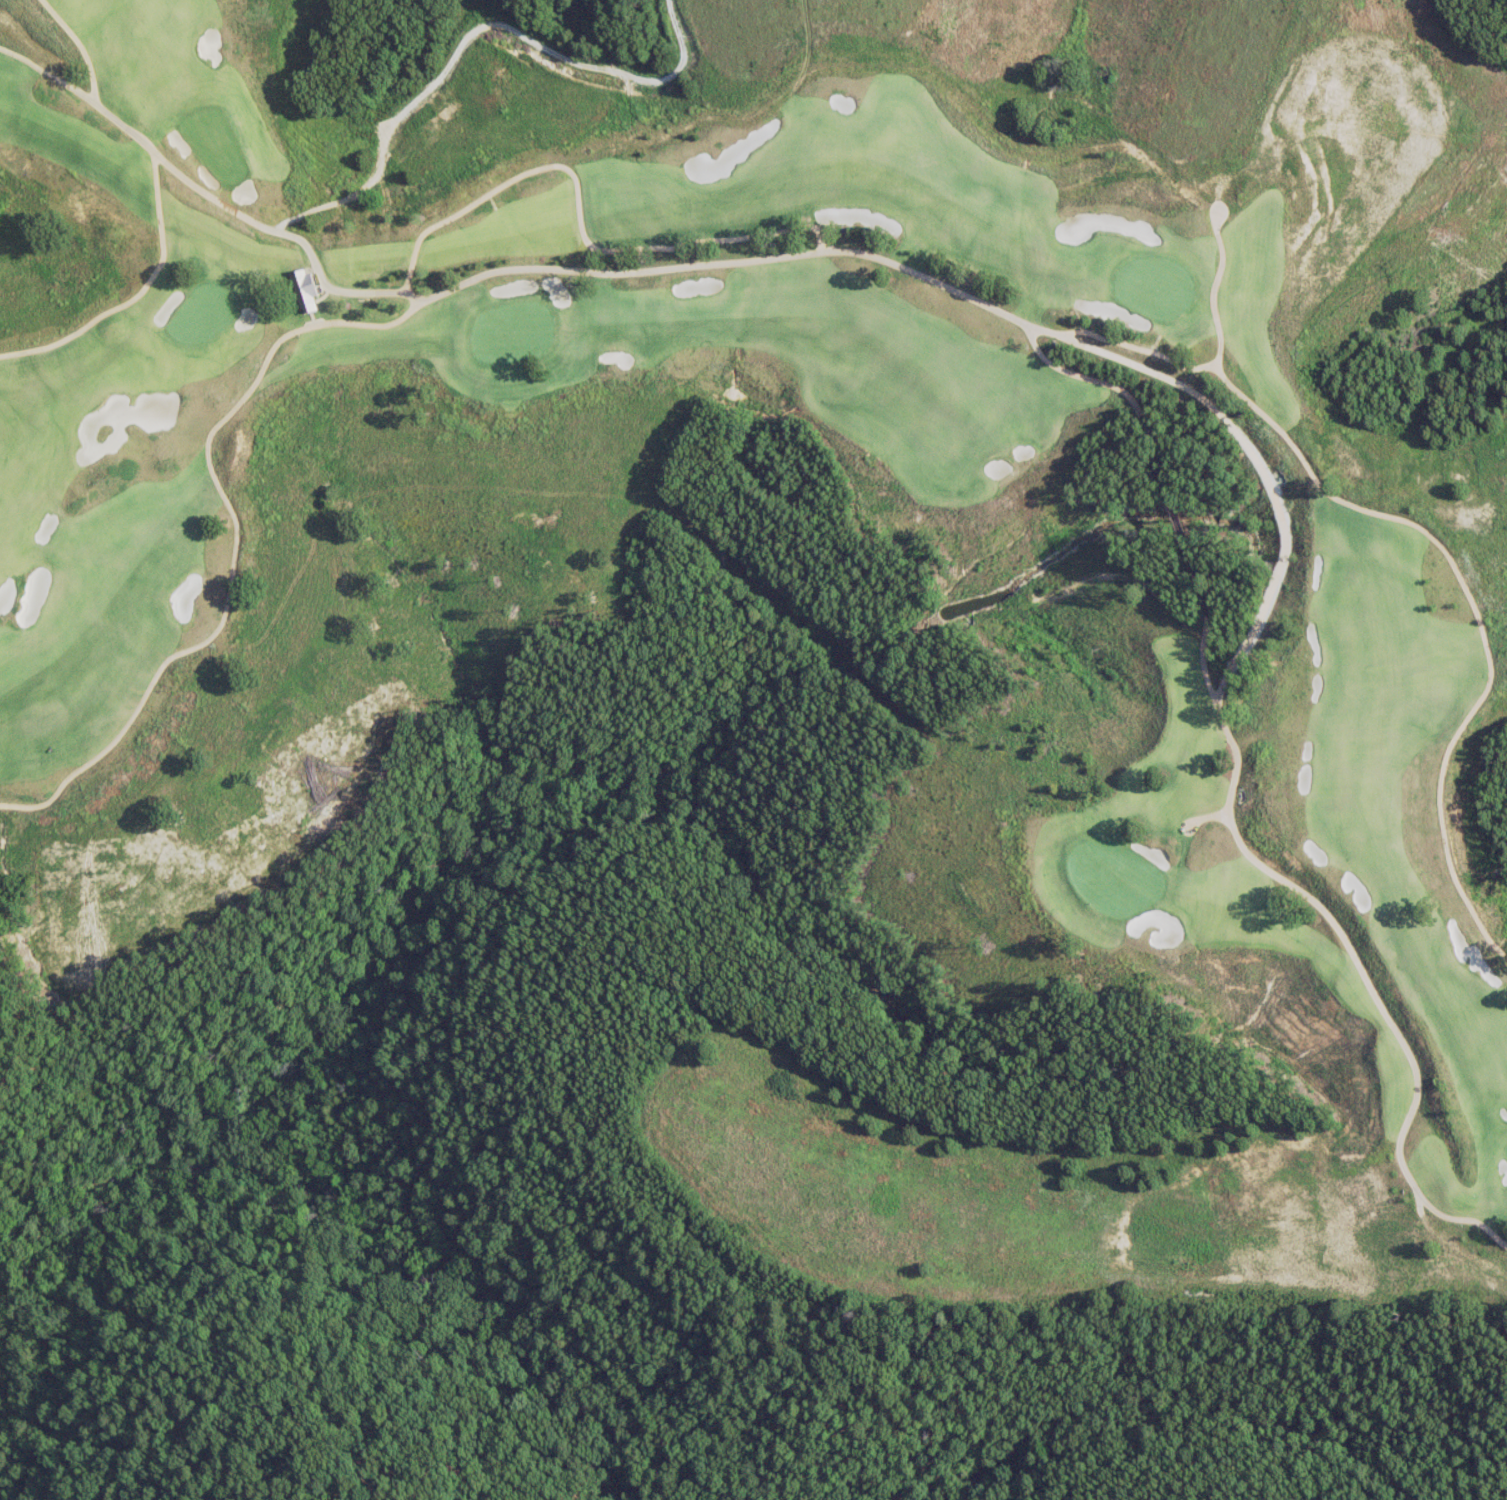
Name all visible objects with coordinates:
building: (302, 290)

